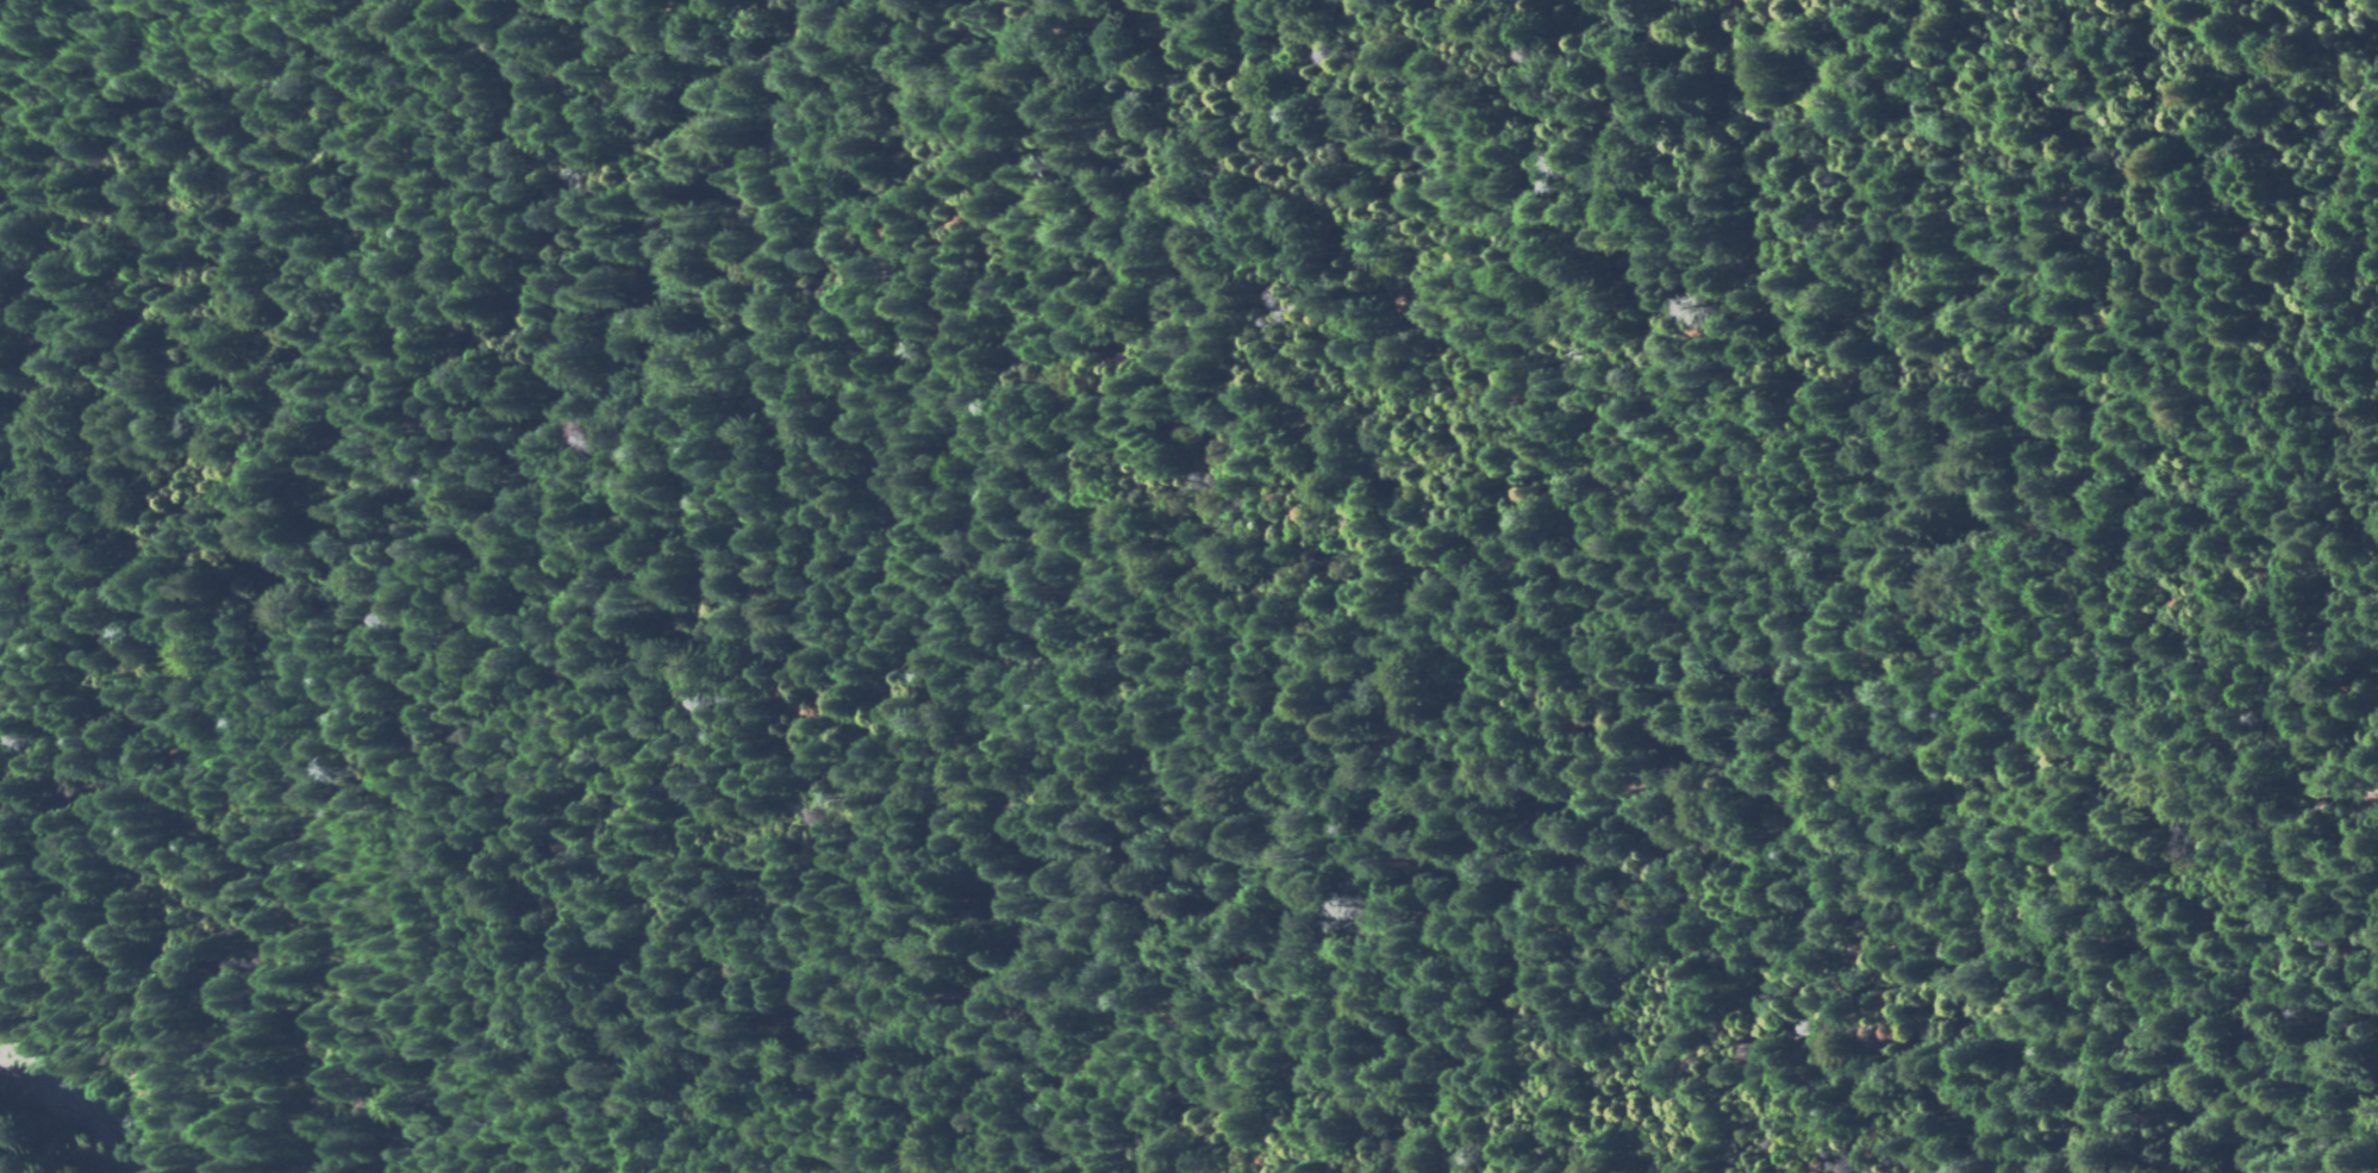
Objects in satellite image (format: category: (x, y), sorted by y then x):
river: (86, 1099)

